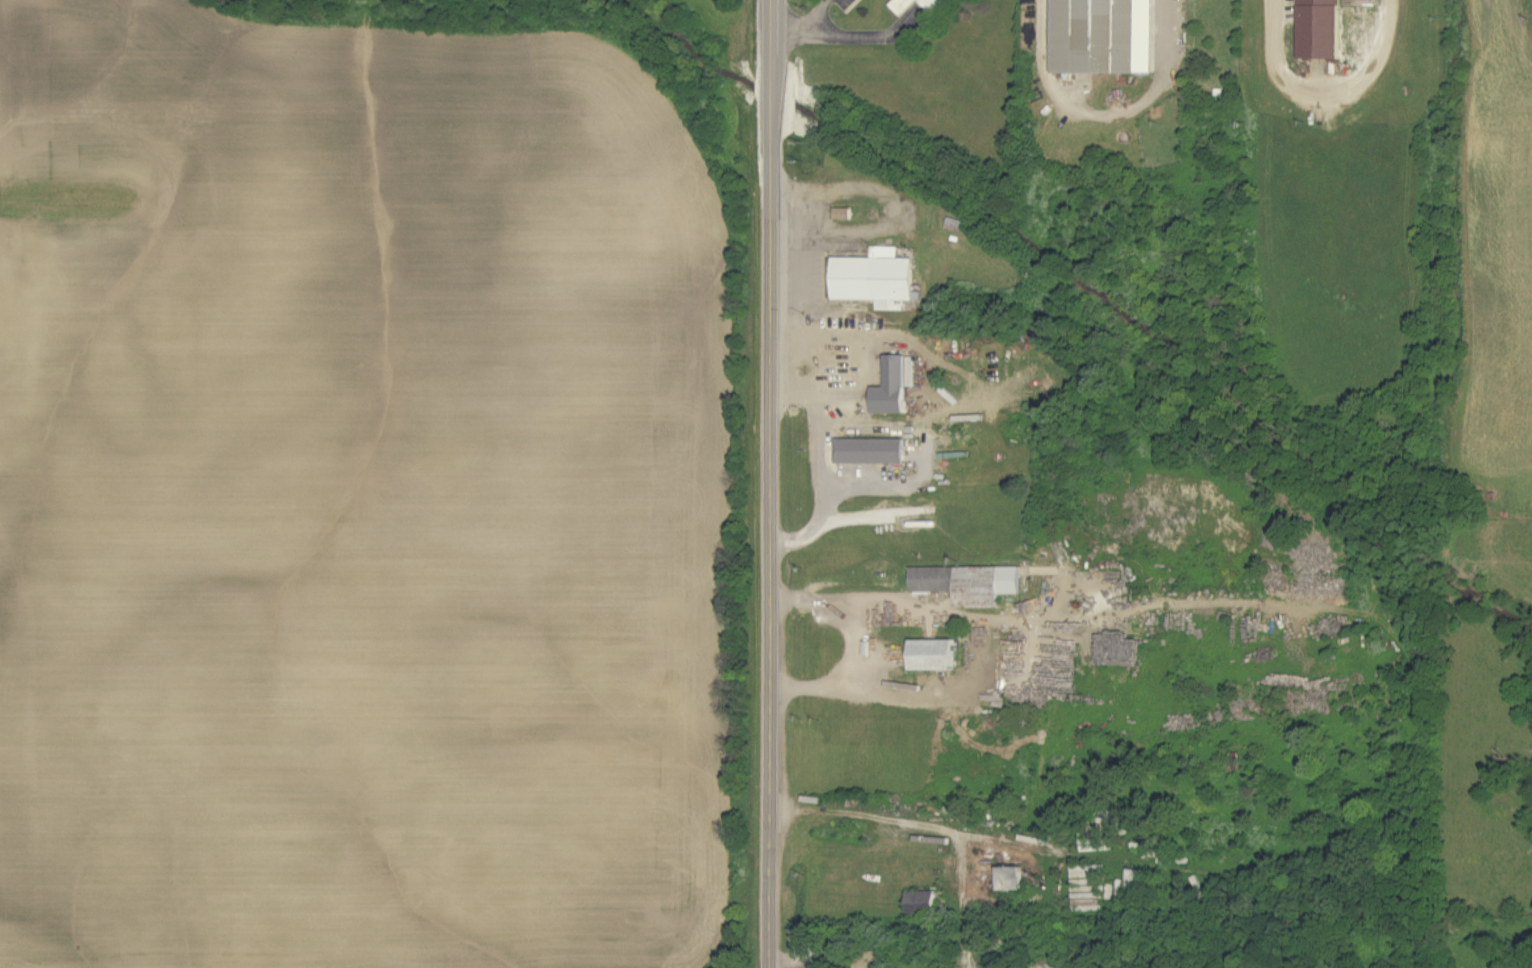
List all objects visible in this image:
building: (905, 10)
road: (805, 23)
building: (1321, 29)
building: (1105, 36)
road: (1329, 93)
road: (1108, 110)
building: (844, 214)
building: (878, 280)
building: (893, 388)
building: (872, 452)
road: (771, 484)
building: (970, 585)
building: (935, 656)
building: (1121, 656)
building: (1015, 662)
road: (917, 755)
building: (1013, 880)
building: (923, 904)

